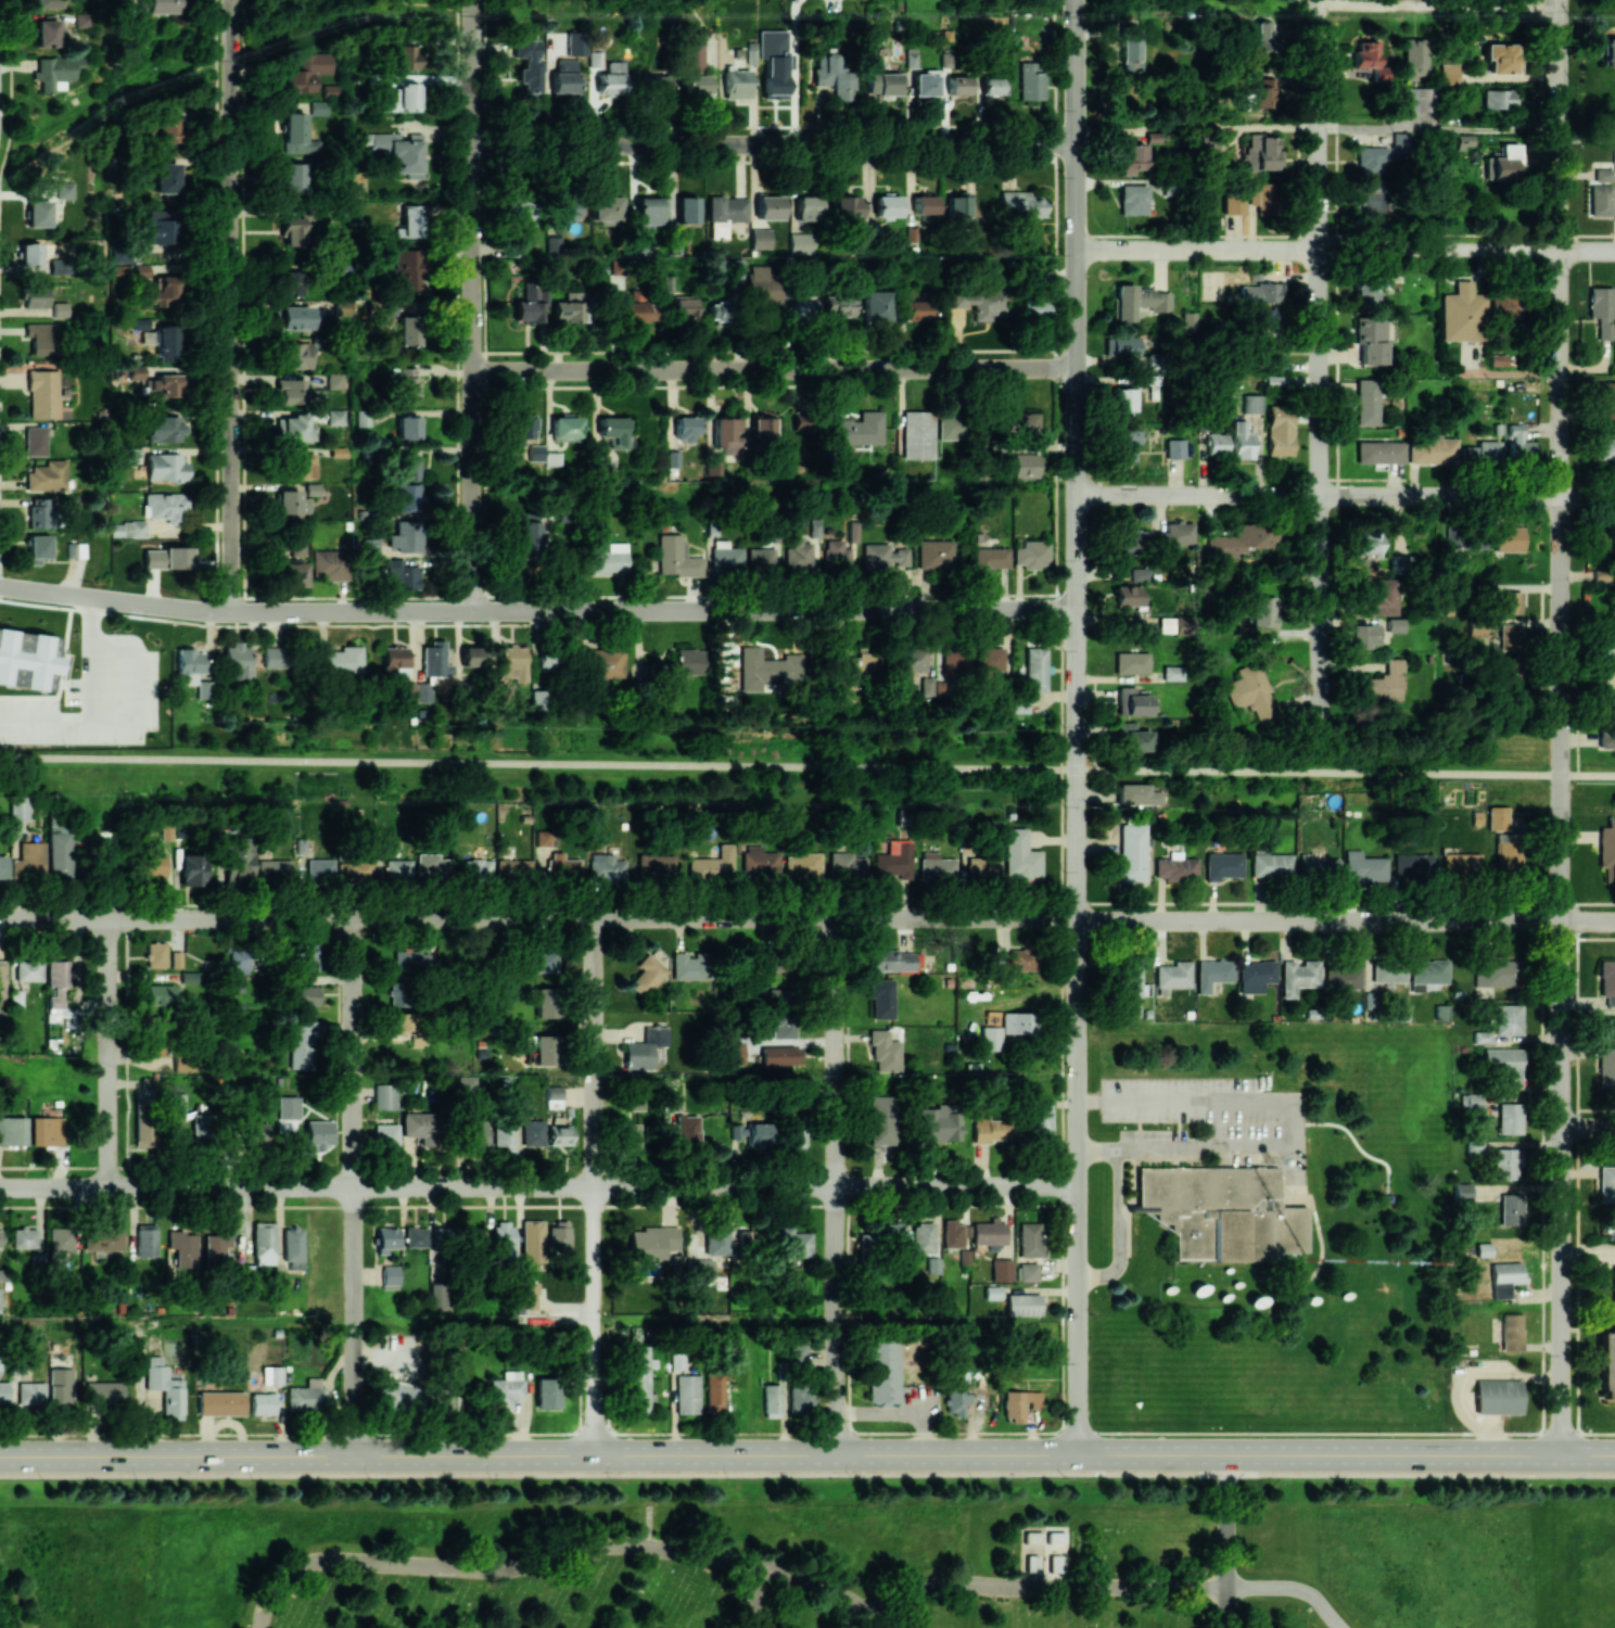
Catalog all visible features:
building: (50, 3)
road: (1437, 5)
building: (81, 20)
building: (49, 33)
building: (1262, 42)
building: (576, 43)
building: (1131, 48)
building: (1608, 51)
building: (405, 56)
building: (911, 58)
building: (1501, 58)
building: (1414, 59)
building: (1369, 60)
building: (773, 62)
building: (527, 64)
building: (694, 68)
building: (55, 72)
building: (306, 72)
building: (1449, 73)
building: (831, 75)
building: (565, 77)
building: (611, 78)
building: (952, 78)
building: (654, 80)
building: (1031, 80)
building: (882, 82)
building: (736, 84)
building: (925, 85)
building: (991, 85)
road: (10, 86)
building: (1263, 93)
building: (404, 98)
building: (1417, 99)
building: (1499, 99)
building: (317, 107)
building: (1607, 124)
road: (1438, 127)
building: (168, 130)
building: (297, 135)
building: (1153, 137)
building: (1400, 139)
building: (1463, 140)
road: (773, 144)
building: (1208, 147)
building: (399, 151)
building: (1262, 152)
building: (1370, 158)
building: (1132, 160)
building: (1614, 162)
building: (1500, 163)
building: (1603, 174)
building: (165, 177)
building: (293, 179)
building: (64, 190)
building: (1260, 195)
building: (1372, 195)
building: (1133, 199)
building: (1600, 201)
building: (1022, 203)
building: (1233, 204)
building: (925, 205)
building: (957, 205)
building: (887, 206)
building: (519, 207)
building: (564, 207)
building: (768, 207)
building: (806, 207)
building: (607, 208)
building: (650, 209)
building: (687, 209)
building: (849, 209)
building: (38, 214)
building: (725, 214)
building: (412, 220)
building: (156, 226)
building: (293, 231)
building: (760, 239)
building: (800, 243)
building: (554, 245)
building: (638, 245)
building: (514, 249)
road: (1317, 251)
road: (1587, 252)
building: (28, 253)
building: (120, 253)
building: (409, 270)
building: (291, 282)
building: (762, 288)
building: (1369, 288)
building: (161, 293)
building: (1258, 293)
building: (35, 296)
building: (1139, 301)
building: (979, 302)
building: (1600, 302)
road: (471, 303)
road: (1076, 303)
building: (531, 304)
road: (216, 305)
building: (876, 305)
road: (232, 306)
building: (839, 306)
building: (915, 306)
building: (571, 307)
building: (684, 307)
building: (1503, 307)
building: (1614, 307)
building: (342, 308)
building: (636, 308)
building: (1032, 308)
building: (60, 309)
building: (803, 310)
building: (716, 311)
building: (1461, 314)
building: (294, 317)
building: (1264, 318)
building: (1188, 321)
building: (147, 323)
building: (1604, 329)
building: (408, 330)
building: (42, 338)
building: (166, 340)
building: (1371, 340)
building: (1121, 346)
building: (1271, 352)
building: (300, 353)
road: (1318, 354)
building: (1497, 359)
road: (774, 370)
building: (136, 371)
building: (334, 381)
building: (408, 382)
building: (164, 385)
building: (292, 390)
building: (42, 394)
building: (1123, 399)
building: (1606, 399)
building: (1366, 402)
building: (1251, 403)
road: (1559, 405)
building: (336, 417)
building: (1020, 422)
building: (950, 424)
building: (407, 427)
building: (564, 427)
building: (163, 428)
building: (522, 428)
building: (685, 428)
building: (764, 428)
building: (297, 429)
building: (859, 429)
building: (613, 430)
building: (1280, 430)
building: (728, 432)
building: (917, 434)
building: (35, 441)
building: (1243, 441)
building: (1217, 443)
building: (1518, 444)
building: (1126, 445)
building: (1174, 448)
building: (1606, 448)
building: (1432, 450)
building: (1379, 451)
building: (1488, 451)
building: (536, 453)
building: (1468, 454)
building: (300, 463)
building: (1026, 465)
building: (410, 466)
building: (165, 467)
building: (602, 471)
building: (48, 475)
building: (311, 488)
building: (406, 496)
road: (1318, 496)
road: (1587, 497)
building: (291, 501)
building: (165, 507)
building: (38, 512)
building: (815, 527)
building: (127, 529)
building: (853, 531)
building: (529, 533)
building: (1174, 535)
building: (404, 538)
building: (1508, 538)
building: (1238, 539)
building: (1477, 539)
building: (1369, 540)
building: (1133, 542)
building: (37, 548)
building: (297, 548)
building: (76, 549)
building: (1614, 549)
building: (934, 554)
building: (1031, 554)
building: (799, 555)
building: (836, 555)
building: (676, 557)
building: (726, 557)
building: (882, 557)
building: (991, 557)
building: (167, 558)
building: (605, 559)
building: (761, 559)
building: (329, 563)
building: (291, 574)
building: (400, 574)
building: (1127, 597)
building: (1379, 598)
building: (1510, 601)
road: (537, 607)
building: (1264, 611)
building: (1174, 624)
building: (1395, 624)
building: (1365, 635)
building: (1510, 636)
building: (1606, 648)
building: (274, 657)
building: (471, 657)
building: (989, 658)
building: (237, 660)
building: (339, 660)
building: (394, 660)
building: (434, 660)
building: (914, 660)
building: (27, 661)
building: (1131, 662)
building: (511, 663)
building: (547, 663)
building: (603, 663)
building: (681, 663)
building: (956, 663)
building: (188, 665)
building: (765, 669)
building: (861, 670)
building: (1034, 670)
building: (1172, 673)
building: (1509, 677)
building: (1384, 684)
building: (927, 686)
building: (203, 689)
building: (408, 691)
building: (1250, 692)
building: (1608, 698)
building: (1131, 701)
road: (90, 703)
building: (1019, 705)
building: (1134, 737)
building: (1606, 738)
road: (538, 763)
road: (1346, 773)
building: (1136, 794)
building: (18, 809)
building: (1497, 817)
building: (543, 838)
building: (1607, 851)
building: (1131, 852)
building: (1509, 852)
building: (59, 854)
building: (1020, 855)
building: (238, 857)
building: (762, 860)
building: (894, 860)
building: (28, 861)
building: (804, 864)
building: (1461, 864)
building: (151, 865)
building: (656, 865)
building: (714, 865)
building: (1222, 865)
building: (1271, 865)
building: (1412, 865)
building: (2, 866)
building: (432, 866)
building: (849, 866)
building: (561, 867)
building: (1175, 867)
building: (1317, 867)
building: (1364, 867)
building: (606, 868)
building: (936, 868)
building: (982, 868)
building: (192, 869)
building: (275, 869)
building: (320, 869)
building: (354, 869)
building: (397, 869)
building: (474, 869)
building: (513, 870)
road: (714, 917)
road: (176, 918)
road: (1345, 919)
building: (155, 954)
building: (305, 956)
building: (176, 959)
building: (542, 959)
building: (1017, 959)
building: (411, 961)
building: (768, 961)
building: (894, 961)
building: (241, 962)
building: (689, 965)
building: (28, 970)
building: (1388, 971)
building: (1495, 972)
building: (1212, 974)
building: (1427, 974)
building: (647, 975)
building: (1173, 975)
building: (1256, 976)
building: (1298, 977)
building: (1343, 977)
building: (1130, 980)
building: (1607, 980)
building: (58, 981)
building: (2, 993)
building: (397, 993)
building: (160, 994)
building: (302, 996)
building: (779, 996)
building: (881, 999)
building: (545, 1002)
building: (1130, 1007)
building: (1508, 1019)
building: (1015, 1022)
building: (403, 1023)
building: (781, 1025)
road: (1077, 1030)
building: (991, 1038)
building: (302, 1044)
building: (645, 1047)
building: (542, 1050)
building: (885, 1052)
road: (105, 1053)
building: (732, 1053)
building: (780, 1055)
building: (185, 1065)
building: (1504, 1065)
building: (1606, 1067)
building: (467, 1083)
building: (149, 1084)
building: (385, 1096)
building: (554, 1097)
building: (1473, 1102)
building: (634, 1103)
building: (522, 1106)
building: (289, 1107)
building: (1509, 1118)
building: (881, 1120)
building: (1040, 1122)
building: (940, 1123)
building: (418, 1127)
building: (992, 1127)
road: (1287, 1127)
building: (203, 1128)
road: (1588, 1128)
building: (145, 1129)
building: (686, 1130)
building: (12, 1131)
building: (47, 1131)
building: (735, 1131)
building: (533, 1132)
road: (1562, 1132)
building: (255, 1133)
building: (318, 1133)
building: (758, 1133)
building: (385, 1134)
building: (474, 1134)
building: (504, 1135)
building: (559, 1135)
building: (630, 1135)
building: (796, 1135)
building: (1474, 1145)
building: (1506, 1163)
building: (1606, 1183)
road: (594, 1185)
road: (836, 1185)
road: (353, 1186)
road: (538, 1186)
building: (1461, 1192)
building: (1509, 1209)
building: (1219, 1212)
road: (1118, 1231)
building: (893, 1233)
building: (953, 1233)
building: (989, 1233)
building: (416, 1236)
building: (558, 1237)
building: (923, 1237)
building: (24, 1238)
building: (104, 1238)
building: (716, 1238)
building: (147, 1239)
building: (385, 1239)
building: (1030, 1239)
building: (503, 1241)
building: (532, 1241)
building: (61, 1242)
building: (652, 1242)
building: (865, 1242)
building: (263, 1243)
building: (791, 1243)
building: (216, 1244)
building: (183, 1247)
building: (292, 1247)
building: (1483, 1249)
road: (1588, 1252)
building: (1002, 1270)
building: (700, 1271)
building: (1028, 1272)
building: (390, 1276)
building: (1504, 1277)
building: (993, 1293)
building: (526, 1294)
building: (1022, 1303)
building: (0, 1308)
building: (1511, 1332)
building: (797, 1354)
building: (1607, 1356)
building: (677, 1360)
building: (883, 1372)
building: (270, 1374)
building: (638, 1379)
building: (60, 1386)
building: (165, 1387)
building: (506, 1389)
building: (716, 1389)
building: (3, 1391)
building: (104, 1391)
building: (547, 1392)
building: (31, 1394)
building: (687, 1394)
building: (956, 1396)
building: (305, 1397)
building: (1498, 1397)
building: (801, 1399)
building: (772, 1400)
building: (220, 1403)
building: (262, 1403)
building: (1019, 1403)
road: (806, 1454)
road: (806, 1474)
road: (1229, 1521)
building: (1037, 1537)
building: (1055, 1537)
park: (783, 1552)
building: (1037, 1564)
road: (493, 1569)
road: (821, 1582)
road: (1048, 1585)
road: (1293, 1587)
road: (754, 1595)
road: (1229, 1607)
road: (883, 1621)

